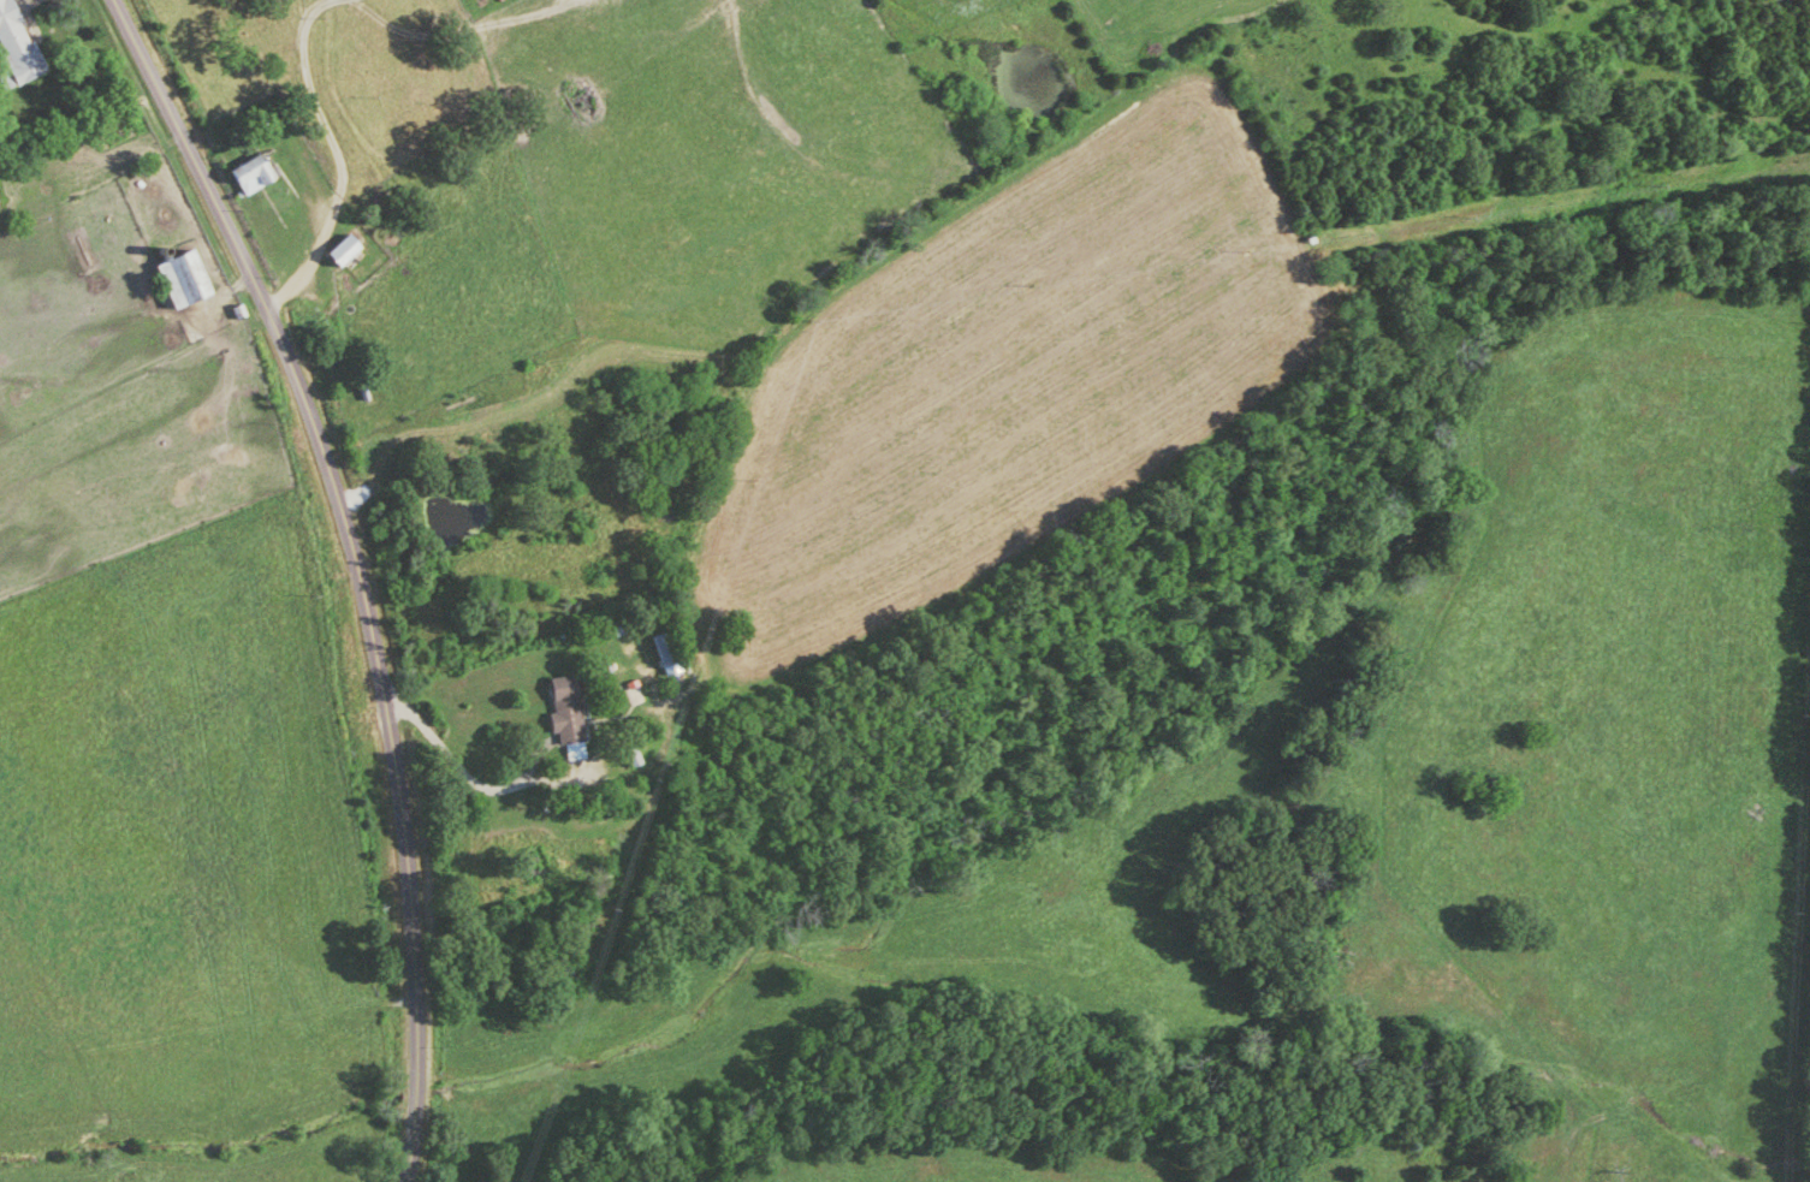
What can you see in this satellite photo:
road: (305, 16)
road: (308, 31)
building: (13, 52)
building: (245, 180)
building: (333, 255)
building: (176, 280)
road: (360, 568)
building: (663, 651)
building: (562, 718)
road: (479, 786)
building: (533, 866)

